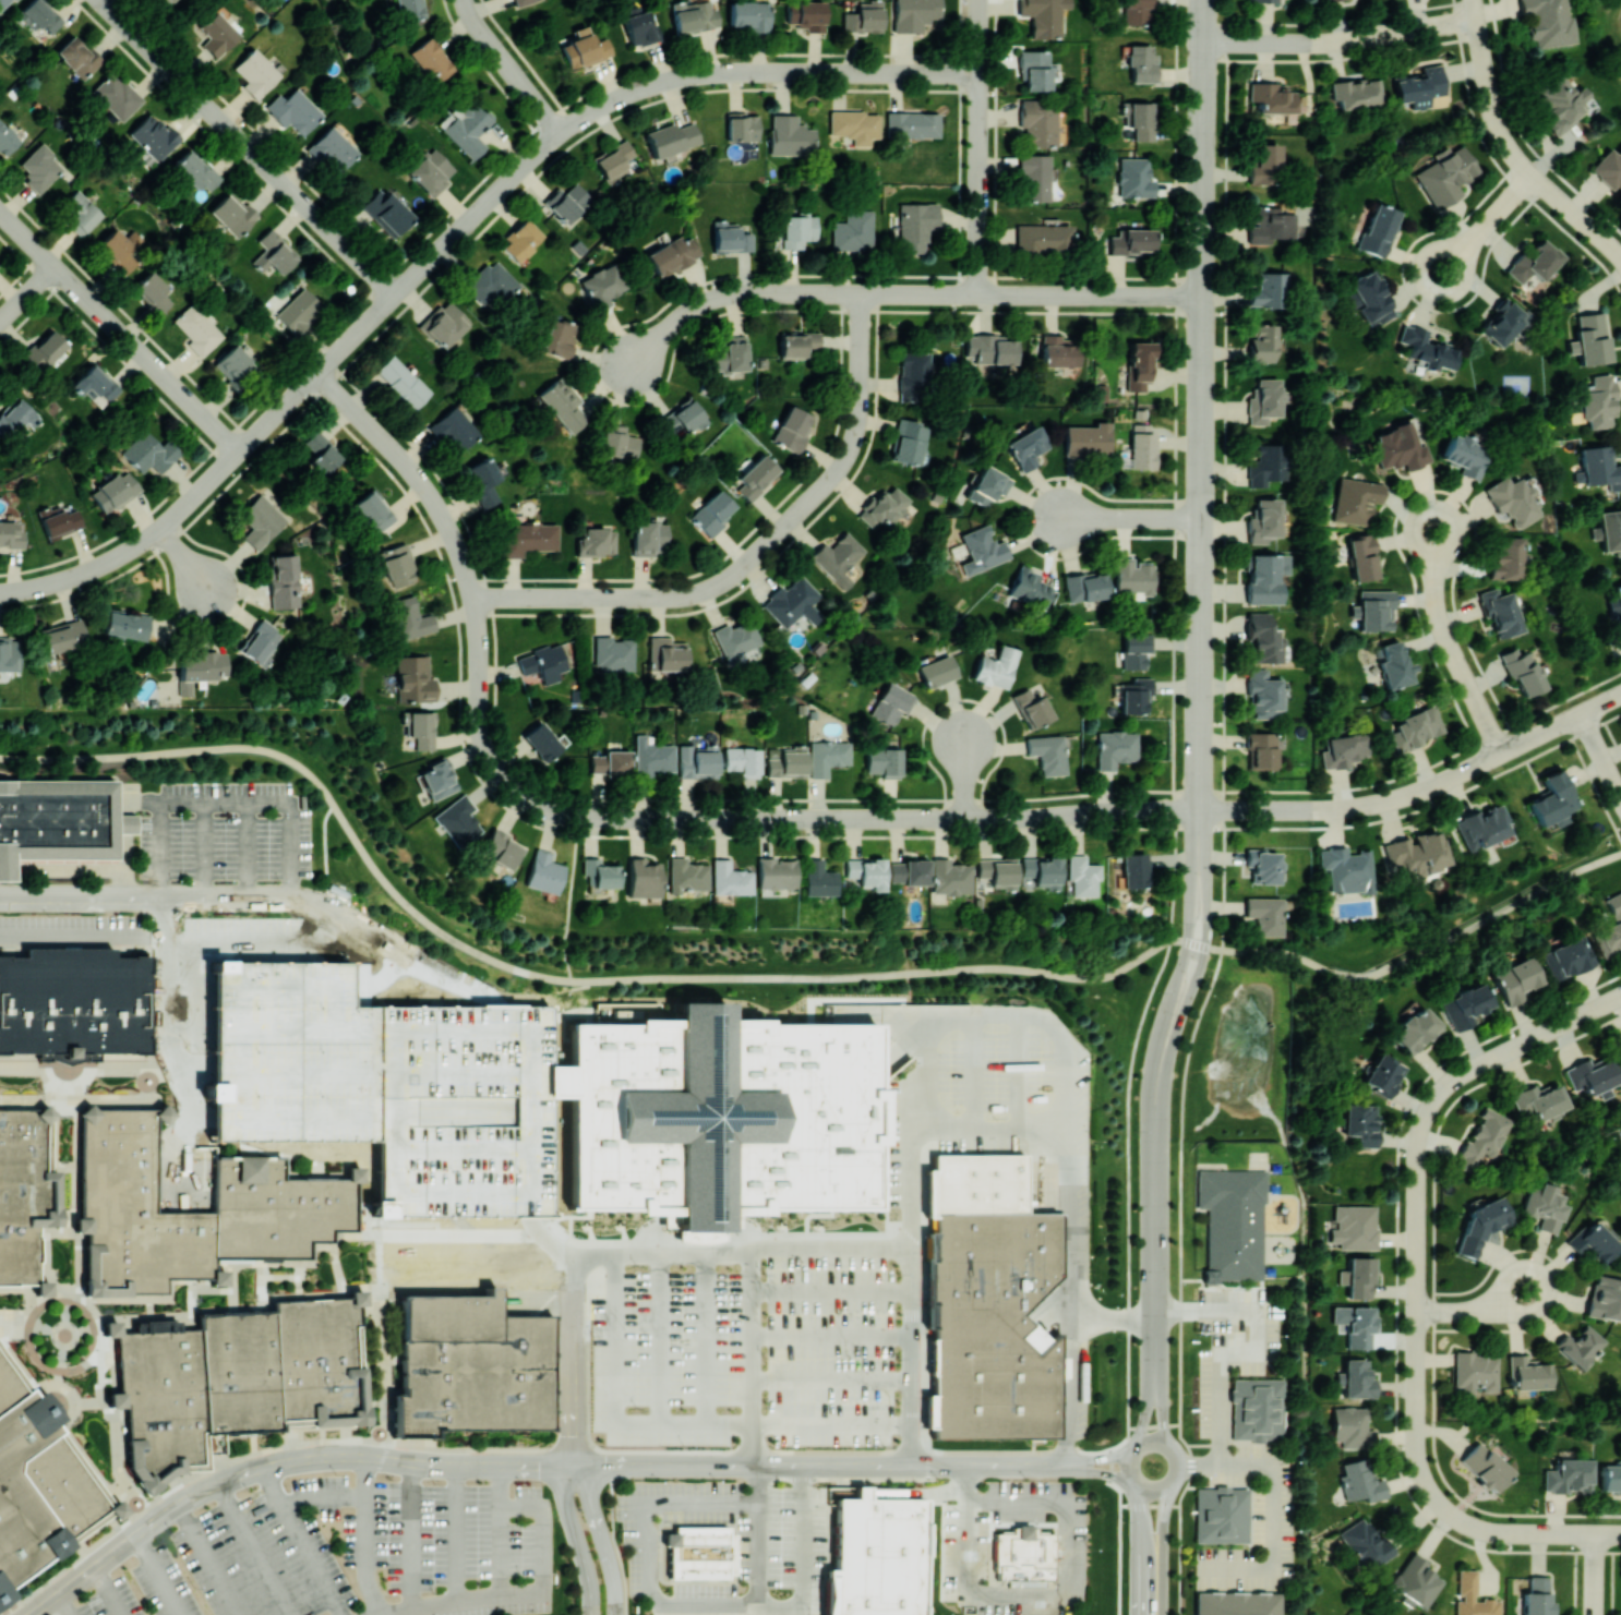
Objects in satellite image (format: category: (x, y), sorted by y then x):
building: (167, 1)
building: (523, 1)
building: (1262, 1)
building: (3, 4)
building: (410, 9)
road: (1475, 9)
building: (1138, 12)
building: (913, 13)
building: (40, 14)
building: (694, 14)
building: (806, 14)
building: (749, 15)
building: (863, 16)
building: (1043, 16)
building: (1547, 22)
building: (641, 28)
building: (216, 34)
road: (1341, 40)
building: (584, 49)
building: (77, 56)
building: (431, 59)
building: (1141, 63)
road: (509, 68)
building: (1033, 69)
building: (255, 72)
building: (1419, 86)
building: (1355, 92)
building: (116, 95)
building: (1272, 97)
building: (1560, 103)
building: (293, 110)
building: (1142, 120)
building: (1038, 121)
building: (912, 124)
building: (742, 125)
building: (854, 125)
building: (466, 126)
building: (790, 135)
building: (153, 136)
building: (672, 137)
building: (7, 138)
road: (248, 147)
road: (978, 147)
building: (332, 149)
road: (1516, 156)
building: (613, 160)
building: (1264, 165)
building: (40, 167)
building: (1609, 168)
building: (195, 170)
building: (430, 171)
building: (1444, 174)
building: (1033, 177)
building: (1134, 178)
building: (567, 202)
road: (1203, 202)
building: (81, 212)
building: (386, 212)
building: (231, 213)
road: (471, 219)
road: (1487, 224)
building: (1270, 225)
building: (914, 226)
building: (1378, 229)
building: (797, 230)
building: (852, 230)
building: (730, 238)
building: (1043, 239)
building: (520, 240)
building: (1131, 241)
building: (120, 249)
building: (273, 252)
building: (672, 255)
building: (1534, 262)
building: (491, 284)
building: (603, 285)
building: (1268, 289)
building: (153, 290)
road: (26, 291)
road: (731, 296)
road: (1032, 296)
building: (1371, 298)
building: (298, 311)
building: (1501, 322)
building: (444, 323)
building: (196, 328)
road: (119, 330)
building: (557, 337)
building: (1589, 338)
building: (1261, 342)
building: (799, 344)
building: (990, 348)
building: (1426, 348)
building: (44, 350)
building: (1060, 351)
building: (730, 353)
building: (235, 365)
building: (1139, 365)
building: (913, 375)
building: (400, 382)
building: (95, 384)
building: (1263, 400)
building: (1597, 400)
building: (564, 405)
building: (14, 415)
building: (684, 417)
building: (792, 427)
building: (454, 429)
building: (1088, 438)
building: (908, 441)
building: (619, 442)
building: (1141, 446)
building: (1401, 446)
building: (1025, 447)
road: (1202, 447)
building: (148, 451)
building: (321, 453)
building: (1466, 455)
building: (1265, 463)
building: (1599, 467)
road: (1175, 469)
building: (756, 477)
building: (483, 480)
building: (987, 485)
building: (115, 491)
building: (1356, 501)
building: (1512, 501)
building: (882, 506)
building: (373, 510)
building: (711, 513)
road: (1132, 517)
building: (59, 519)
building: (261, 520)
building: (1263, 520)
road: (447, 526)
building: (1610, 530)
building: (10, 534)
building: (528, 538)
building: (648, 538)
building: (595, 541)
building: (982, 549)
road: (1202, 550)
road: (756, 553)
road: (184, 557)
building: (838, 557)
building: (1362, 557)
building: (1504, 557)
building: (398, 565)
building: (1265, 577)
building: (1132, 578)
building: (284, 580)
building: (1085, 586)
building: (1029, 587)
road: (27, 588)
road: (1436, 600)
building: (792, 602)
building: (1616, 604)
building: (1376, 610)
building: (1499, 612)
building: (409, 618)
road: (1202, 619)
building: (125, 624)
building: (62, 636)
building: (736, 638)
building: (1262, 638)
building: (261, 641)
building: (1136, 649)
building: (613, 653)
building: (9, 654)
building: (665, 654)
building: (542, 662)
building: (1394, 664)
building: (995, 666)
building: (200, 668)
building: (936, 671)
building: (1522, 672)
building: (413, 678)
building: (1263, 694)
building: (1136, 696)
building: (892, 702)
building: (1032, 707)
road: (1481, 709)
road: (1201, 720)
building: (1415, 727)
building: (421, 728)
building: (541, 740)
building: (1116, 748)
building: (1261, 749)
building: (1343, 749)
building: (1047, 752)
road: (1601, 755)
building: (827, 756)
building: (652, 757)
building: (743, 760)
building: (697, 761)
building: (884, 761)
building: (611, 762)
building: (788, 762)
building: (437, 779)
road: (966, 779)
road: (1419, 791)
building: (1552, 800)
road: (228, 802)
road: (1223, 812)
road: (815, 819)
building: (458, 820)
building: (60, 825)
building: (1480, 825)
road: (127, 832)
road: (325, 845)
building: (502, 848)
road: (204, 849)
road: (249, 849)
building: (1415, 853)
building: (1262, 865)
road: (63, 869)
building: (1134, 869)
building: (1345, 869)
building: (1042, 870)
building: (866, 871)
building: (908, 871)
building: (998, 871)
building: (544, 872)
building: (599, 872)
building: (776, 872)
building: (686, 875)
building: (1083, 876)
building: (950, 877)
building: (643, 878)
building: (730, 878)
building: (818, 878)
road: (262, 897)
road: (569, 911)
building: (1265, 915)
road: (164, 916)
building: (1611, 927)
road: (82, 935)
building: (1566, 957)
road: (785, 976)
building: (1514, 980)
building: (72, 1002)
building: (1465, 1005)
building: (1415, 1029)
road: (1528, 1040)
building: (1620, 1040)
building: (298, 1051)
parking garage: (298, 1051)
road: (1020, 1072)
building: (1382, 1074)
building: (1594, 1076)
road: (1156, 1094)
building: (1539, 1101)
road: (975, 1105)
building: (469, 1109)
parking garage: (469, 1109)
building: (731, 1117)
building: (1360, 1123)
road: (1024, 1129)
road: (911, 1130)
building: (1484, 1138)
road: (1071, 1181)
building: (26, 1194)
building: (284, 1194)
building: (1544, 1207)
building: (1232, 1222)
building: (1481, 1225)
building: (1354, 1227)
road: (365, 1234)
road: (437, 1234)
building: (1592, 1241)
road: (852, 1248)
building: (1359, 1277)
road: (1129, 1281)
road: (214, 1287)
road: (830, 1292)
building: (1605, 1298)
road: (1417, 1301)
building: (993, 1303)
road: (1474, 1310)
road: (1110, 1322)
building: (1354, 1324)
building: (65, 1333)
road: (661, 1336)
road: (707, 1336)
road: (830, 1336)
building: (1578, 1346)
parking lot: (747, 1351)
road: (1260, 1352)
road: (575, 1358)
building: (471, 1367)
road: (382, 1371)
building: (1475, 1371)
building: (1527, 1373)
road: (751, 1375)
building: (237, 1377)
building: (1357, 1378)
road: (830, 1381)
road: (617, 1402)
building: (1257, 1408)
road: (1145, 1414)
road: (1161, 1415)
road: (830, 1423)
road: (1153, 1425)
building: (1352, 1427)
road: (1204, 1444)
road: (1173, 1453)
road: (1094, 1458)
road: (281, 1465)
road: (816, 1466)
building: (1484, 1466)
road: (1096, 1470)
building: (1568, 1475)
building: (1610, 1475)
building: (40, 1481)
building: (1360, 1481)
road: (324, 1499)
road: (1149, 1504)
road: (1273, 1504)
building: (1221, 1514)
road: (503, 1530)
road: (970, 1530)
road: (1529, 1532)
road: (458, 1533)
road: (411, 1535)
road: (367, 1538)
road: (601, 1538)
road: (575, 1540)
road: (303, 1542)
road: (1162, 1543)
building: (1365, 1543)
road: (652, 1547)
road: (1068, 1548)
road: (1141, 1548)
road: (256, 1550)
building: (700, 1552)
parking lot: (347, 1554)
road: (758, 1555)
building: (876, 1556)
building: (1023, 1556)
road: (805, 1558)
road: (208, 1559)
road: (159, 1575)
road: (1595, 1575)
building: (1416, 1580)
road: (110, 1591)
road: (530, 1595)
building: (1472, 1596)
building: (1536, 1596)
building: (1237, 1603)
road: (68, 1604)

